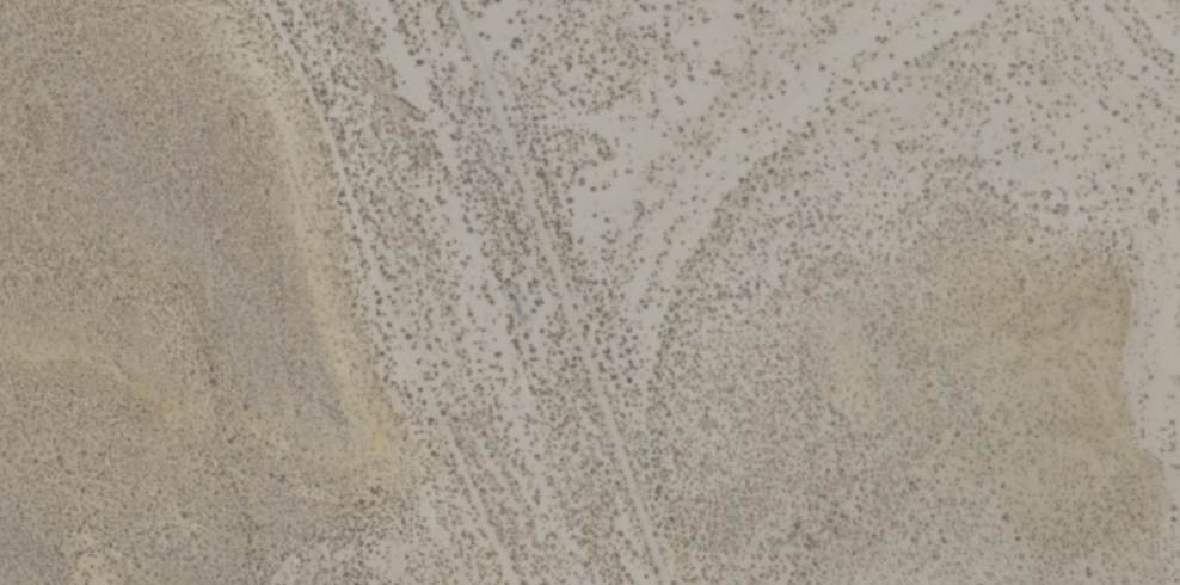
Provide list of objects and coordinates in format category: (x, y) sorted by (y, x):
road: (375, 295)

